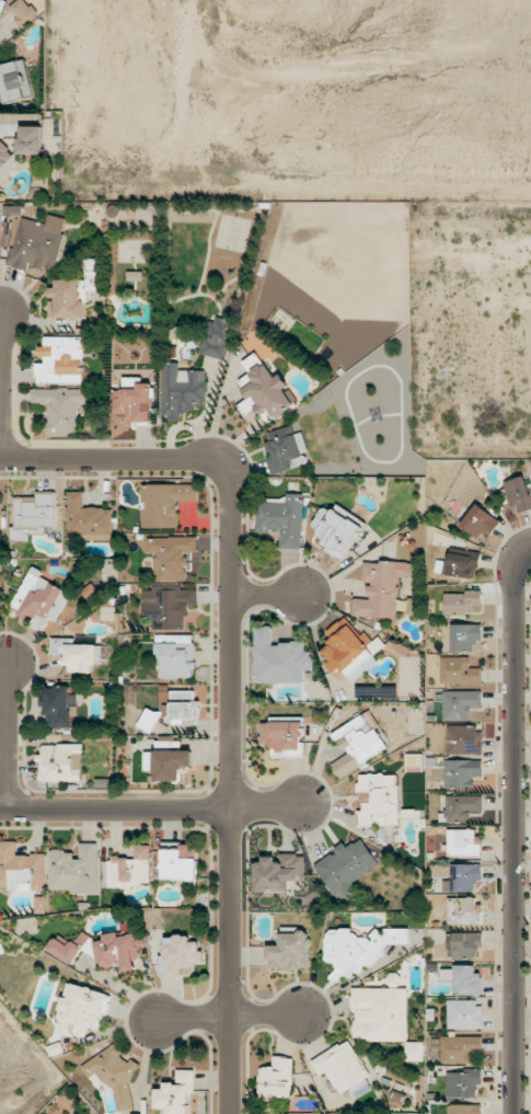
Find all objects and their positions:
building: (24, 14)
building: (14, 81)
building: (30, 139)
building: (5, 160)
building: (37, 243)
building: (135, 276)
building: (74, 292)
building: (217, 336)
building: (60, 360)
building: (130, 382)
road: (2, 388)
building: (266, 388)
building: (182, 390)
building: (135, 403)
building: (61, 406)
building: (286, 449)
building: (518, 493)
building: (164, 503)
building: (1, 515)
building: (33, 515)
building: (281, 518)
building: (86, 519)
building: (480, 521)
building: (337, 529)
building: (172, 556)
building: (461, 562)
building: (381, 588)
road: (268, 594)
building: (39, 597)
building: (461, 602)
building: (168, 606)
building: (465, 636)
building: (348, 647)
building: (77, 654)
building: (176, 657)
building: (279, 658)
building: (459, 670)
road: (232, 675)
building: (460, 703)
building: (183, 704)
building: (59, 708)
building: (148, 720)
road: (7, 735)
building: (284, 737)
building: (464, 739)
building: (358, 744)
building: (60, 762)
building: (168, 762)
building: (461, 772)
building: (379, 800)
road: (150, 808)
building: (460, 808)
road: (517, 829)
building: (463, 842)
building: (180, 863)
building: (346, 866)
building: (21, 869)
building: (74, 869)
building: (130, 869)
building: (277, 873)
building: (463, 877)
building: (463, 910)
building: (464, 944)
building: (68, 948)
building: (118, 950)
building: (289, 952)
building: (181, 953)
building: (463, 978)
building: (394, 979)
building: (82, 1010)
building: (380, 1013)
road: (228, 1014)
building: (464, 1014)
building: (459, 1048)
building: (342, 1066)
building: (114, 1075)
building: (277, 1078)
building: (463, 1082)
building: (360, 1089)
building: (176, 1093)

